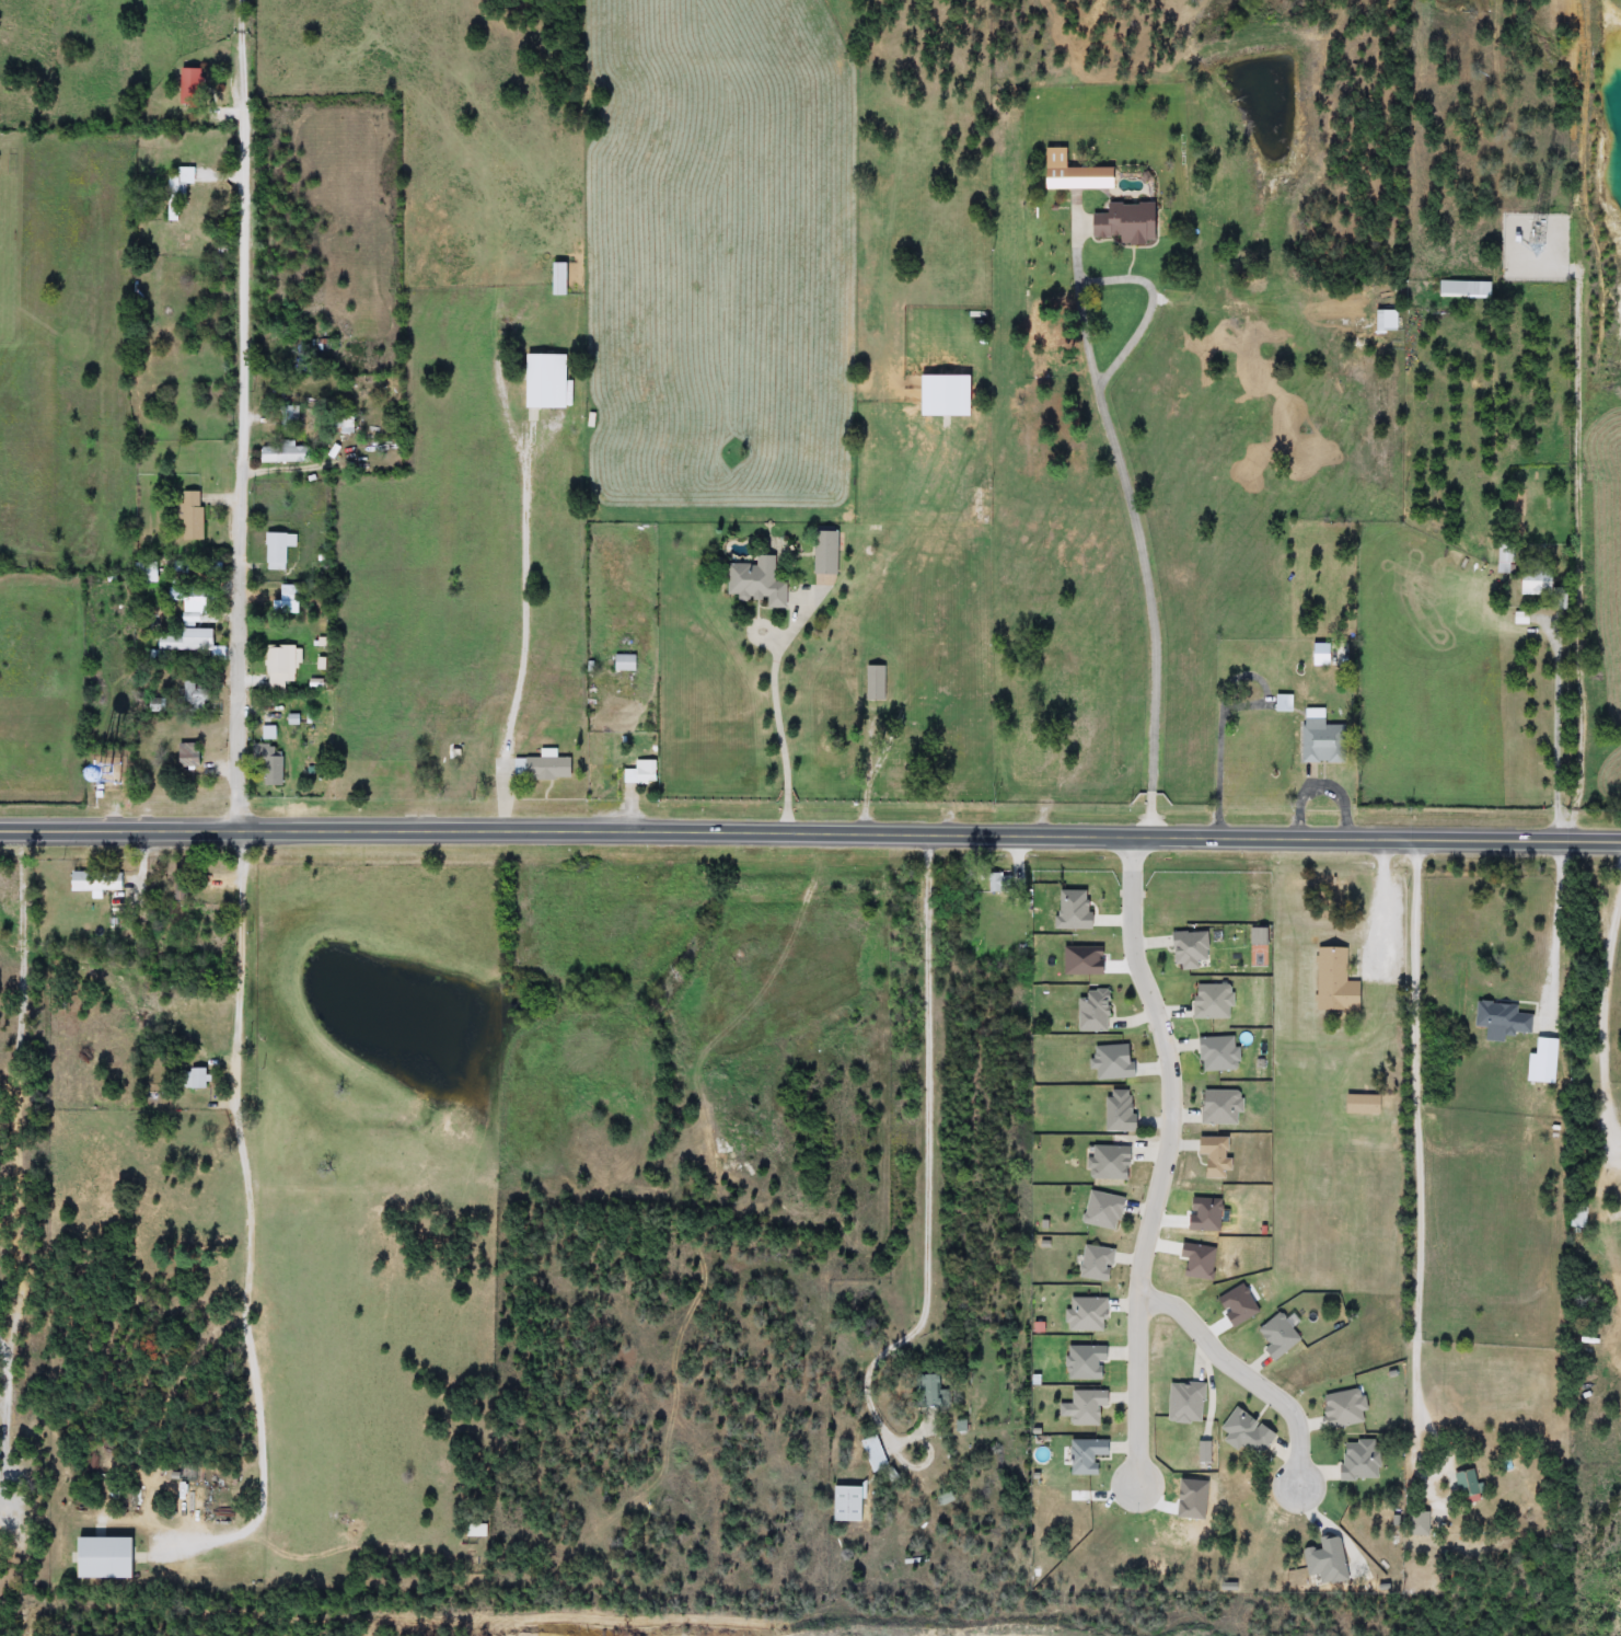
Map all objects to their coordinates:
building: (188, 83)
building: (176, 193)
building: (1121, 223)
building: (555, 279)
building: (1383, 320)
building: (543, 381)
road: (244, 415)
building: (290, 417)
building: (339, 423)
building: (280, 453)
road: (1123, 469)
building: (976, 497)
building: (188, 515)
building: (276, 549)
building: (1505, 552)
building: (822, 553)
building: (144, 572)
road: (530, 573)
building: (754, 583)
building: (1535, 583)
building: (197, 598)
building: (1560, 599)
building: (188, 619)
building: (183, 644)
building: (1336, 657)
building: (623, 663)
building: (278, 664)
building: (873, 683)
building: (193, 693)
building: (1281, 702)
road: (1225, 708)
road: (780, 712)
road: (1560, 734)
building: (1317, 740)
building: (184, 756)
building: (69, 763)
building: (268, 765)
building: (541, 767)
building: (639, 773)
road: (810, 832)
building: (94, 880)
building: (997, 883)
road: (1387, 903)
road: (1558, 929)
building: (1186, 948)
building: (1333, 980)
building: (1091, 1010)
building: (1500, 1017)
road: (1607, 1017)
building: (194, 1079)
building: (1116, 1110)
road: (1419, 1133)
building: (1212, 1155)
road: (1163, 1159)
road: (928, 1172)
building: (1575, 1217)
building: (1093, 1264)
building: (1275, 1336)
road: (1243, 1375)
building: (925, 1389)
building: (1086, 1405)
building: (873, 1453)
building: (1084, 1455)
building: (1464, 1484)
building: (845, 1503)
building: (1415, 1523)
building: (103, 1557)

